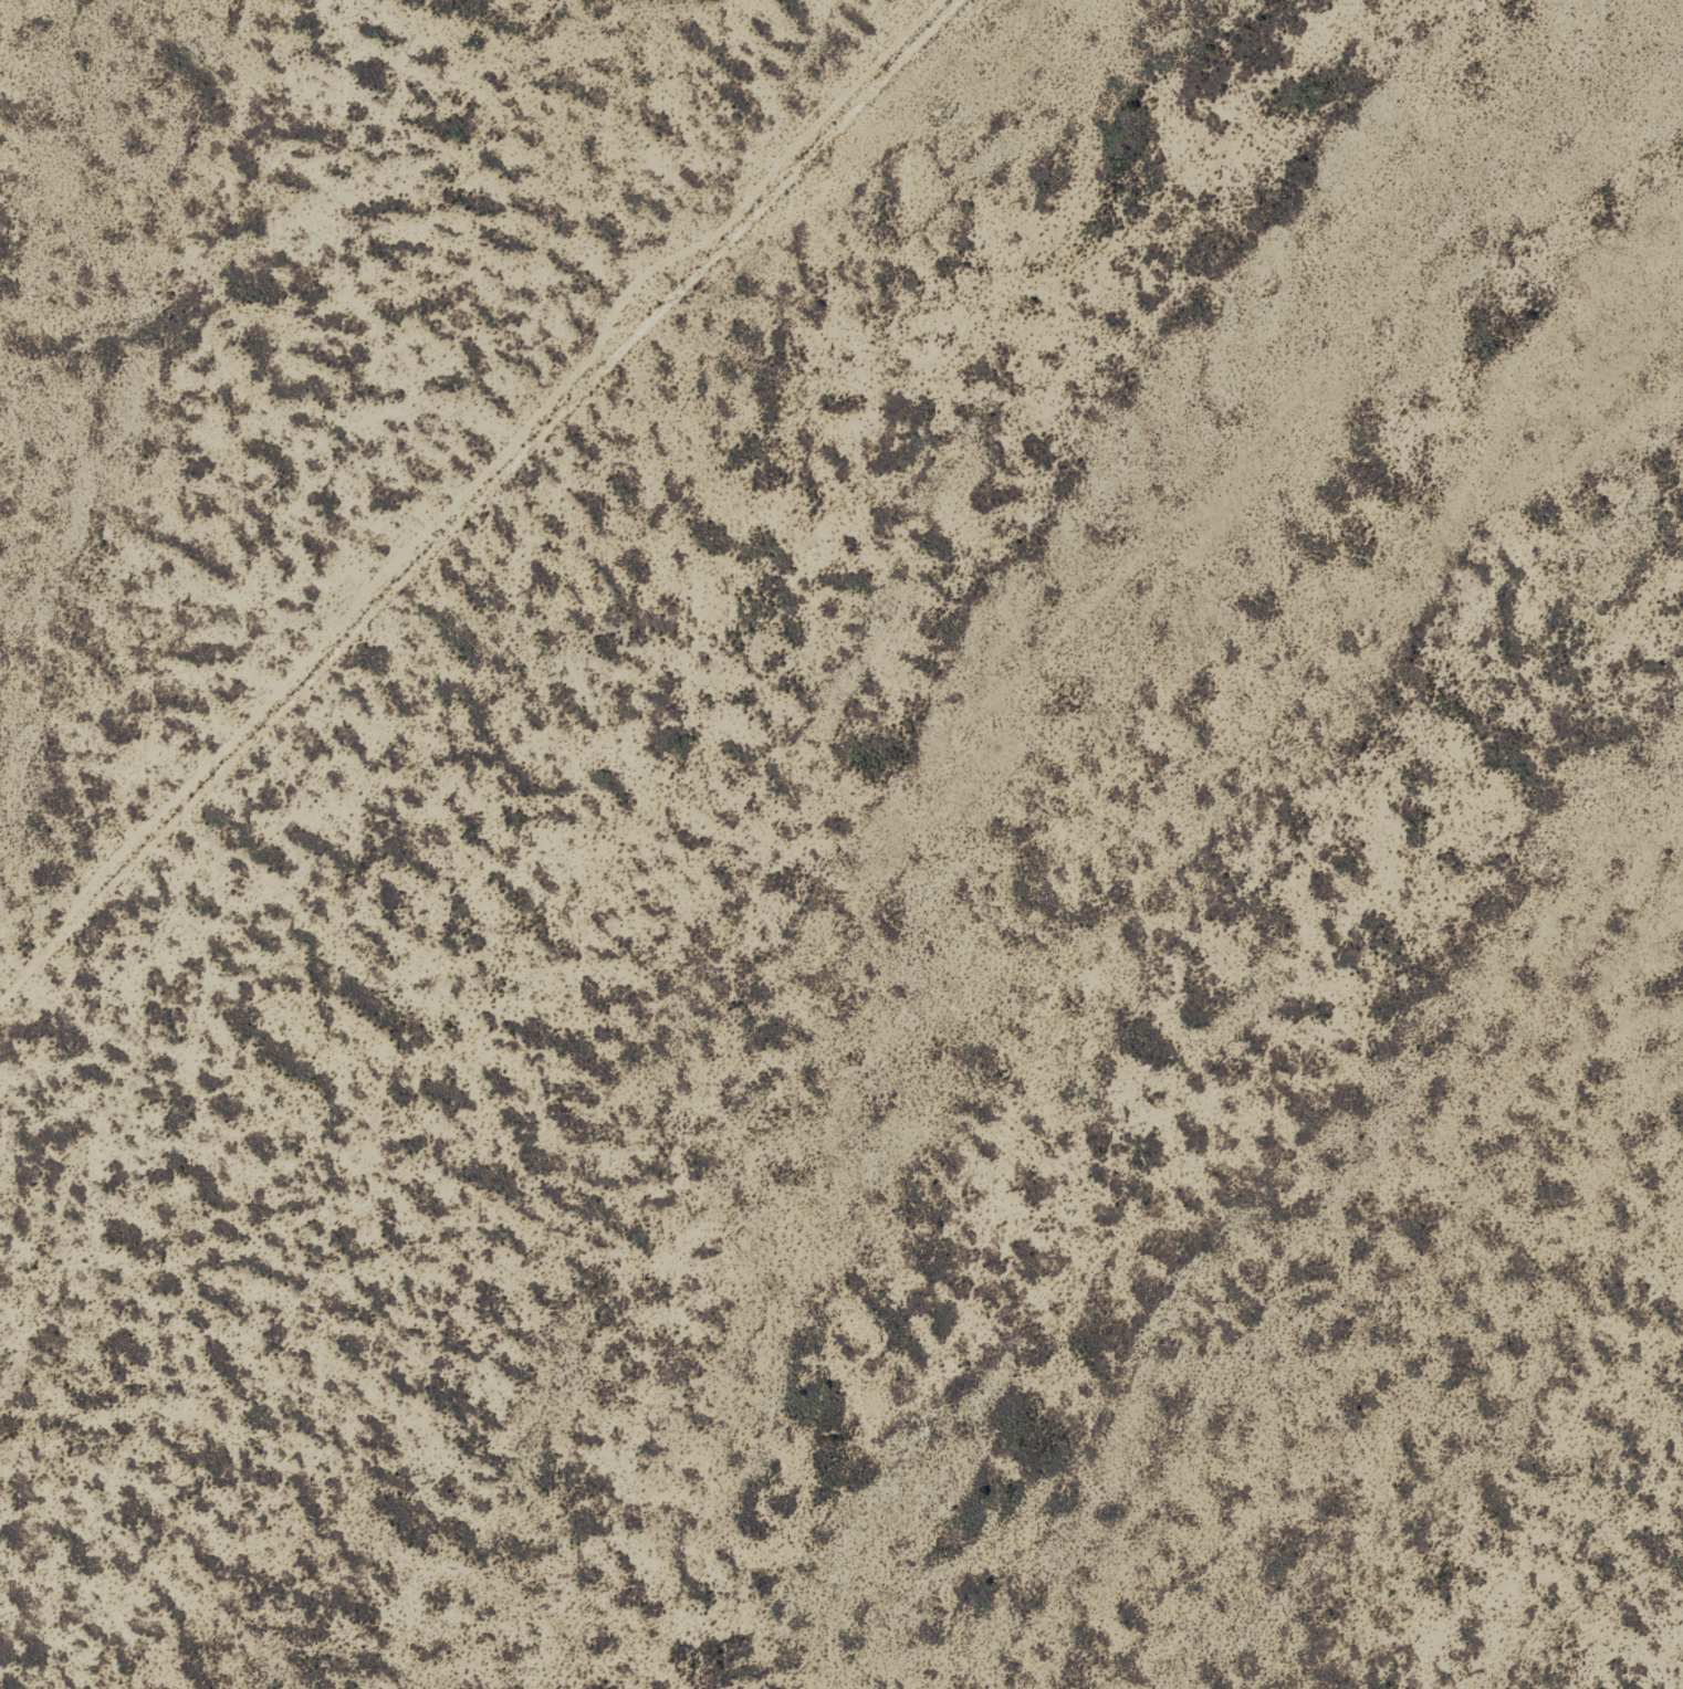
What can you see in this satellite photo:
road: (96, 326)

